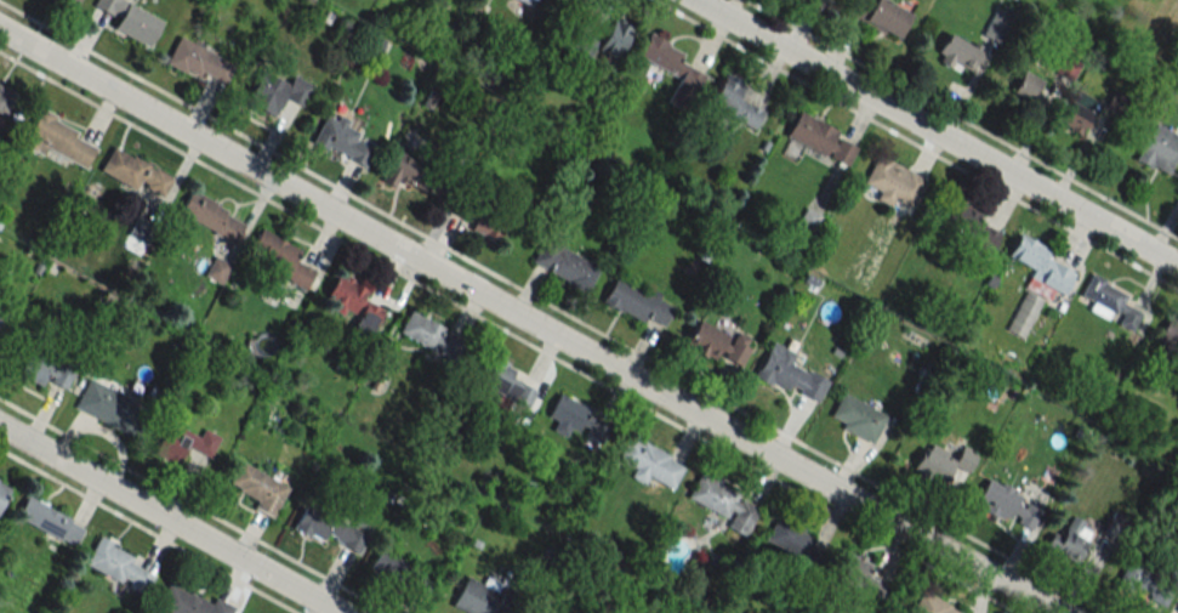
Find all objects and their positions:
building: (69, 2)
building: (529, 2)
building: (880, 16)
building: (129, 21)
building: (614, 39)
building: (957, 55)
building: (197, 61)
building: (672, 69)
building: (1065, 69)
building: (1025, 86)
building: (274, 91)
building: (5, 100)
building: (733, 102)
building: (1079, 113)
road: (962, 119)
road: (938, 131)
building: (56, 138)
building: (819, 138)
building: (341, 141)
road: (915, 144)
building: (1159, 149)
building: (136, 174)
building: (416, 175)
building: (892, 182)
building: (211, 216)
building: (488, 222)
building: (969, 226)
building: (279, 259)
building: (564, 263)
building: (1040, 263)
building: (216, 269)
building: (1103, 297)
building: (636, 301)
building: (354, 306)
road: (553, 307)
building: (1024, 314)
road: (530, 319)
road: (508, 331)
building: (429, 335)
building: (1170, 335)
building: (716, 344)
building: (44, 371)
building: (787, 374)
building: (505, 380)
building: (110, 407)
building: (857, 418)
building: (577, 419)
building: (181, 441)
building: (647, 460)
building: (943, 461)
building: (258, 488)
building: (2, 492)
building: (723, 501)
building: (1006, 504)
road: (194, 505)
building: (46, 520)
road: (170, 520)
building: (326, 527)
road: (148, 530)
building: (789, 538)
building: (1070, 539)
building: (114, 564)
building: (860, 574)
building: (1148, 581)
building: (476, 597)
building: (188, 602)
building: (929, 605)
building: (1177, 611)

